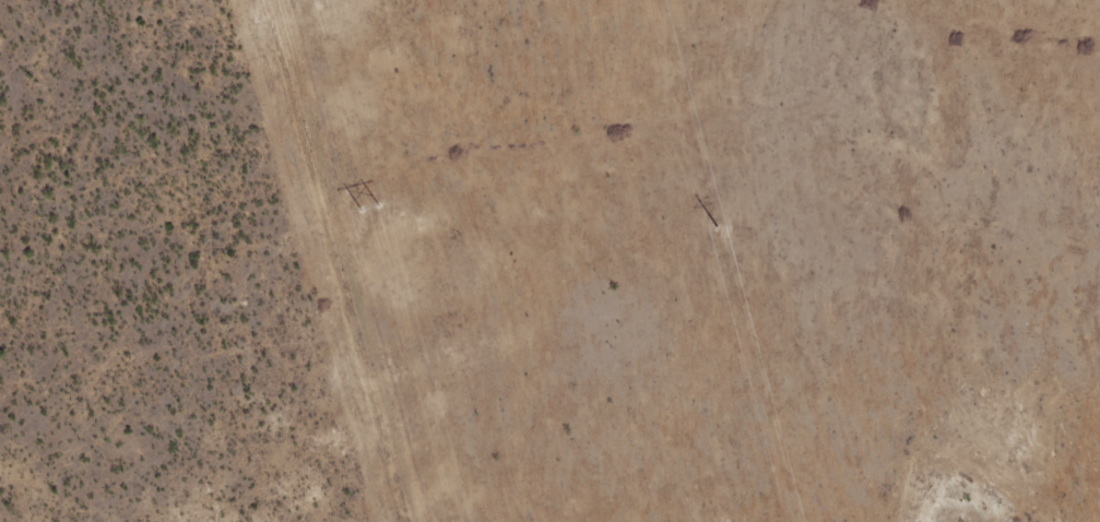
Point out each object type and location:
power tower: (369, 206)
power tower: (717, 226)
road: (392, 259)

